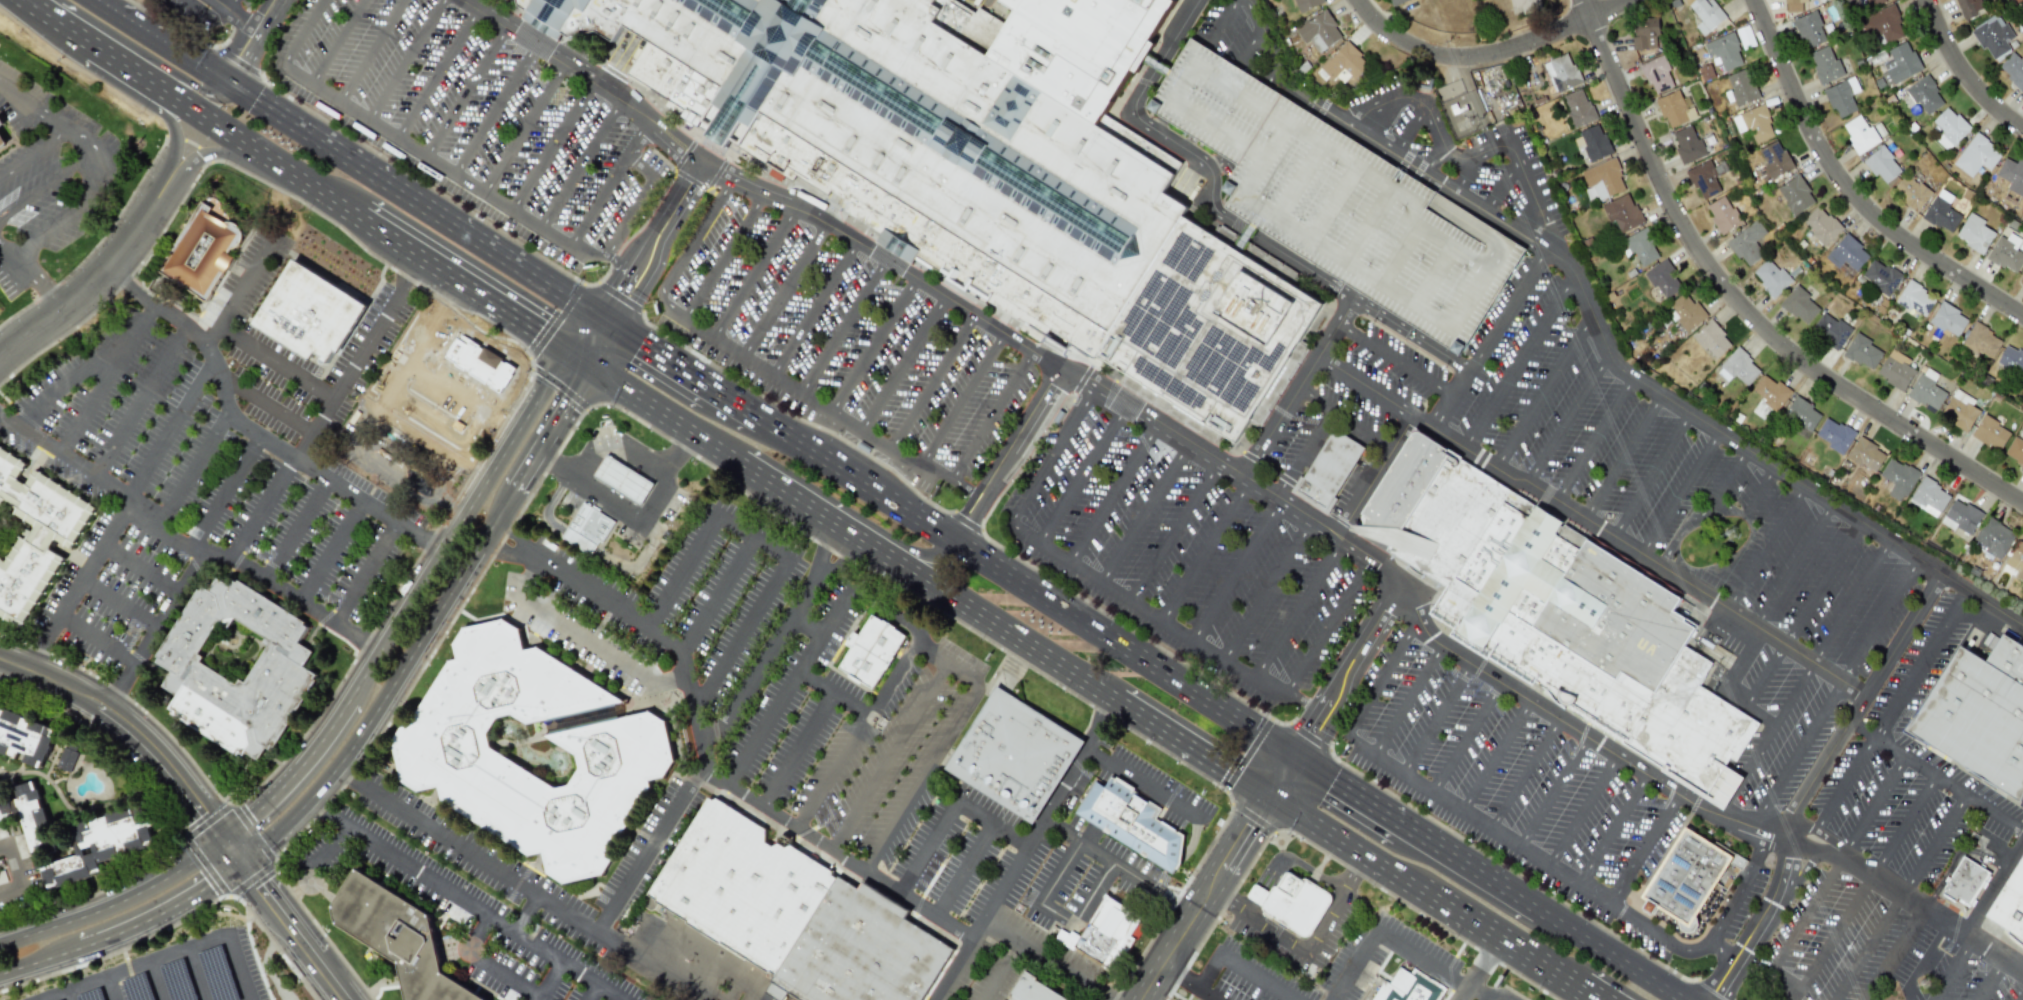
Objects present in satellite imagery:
building: (2016, 1)
building: (1394, 2)
parking lot: (251, 3)
building: (1867, 3)
road: (102, 4)
road: (233, 4)
building: (1306, 4)
building: (1795, 5)
road: (36, 6)
road: (39, 6)
building: (1524, 6)
building: (1969, 8)
road: (211, 14)
building: (1706, 14)
road: (240, 15)
road: (271, 15)
road: (1220, 23)
building: (1882, 24)
road: (69, 28)
building: (1810, 29)
building: (1319, 31)
road: (303, 33)
building: (1644, 33)
building: (1992, 36)
road: (338, 43)
road: (170, 45)
road: (1246, 47)
road: (371, 51)
building: (1724, 51)
building: (1699, 53)
road: (1491, 54)
road: (147, 56)
road: (247, 56)
road: (116, 59)
road: (406, 60)
building: (1344, 63)
building: (1899, 63)
building: (1825, 64)
building: (2013, 69)
road: (438, 72)
building: (1561, 72)
road: (1962, 73)
building: (1657, 74)
road: (586, 77)
power tower: (1545, 79)
traffic signals: (231, 82)
building: (1741, 86)
road: (466, 90)
building: (1921, 94)
building: (1841, 96)
building: (1578, 108)
building: (1675, 108)
road: (495, 109)
road: (30, 110)
parking lot: (478, 110)
road: (1157, 123)
building: (1754, 123)
road: (1214, 126)
road: (173, 127)
road: (524, 127)
building: (1949, 128)
road: (1409, 129)
building: (1859, 133)
road: (1273, 138)
building: (2, 141)
building: (1593, 142)
road: (190, 143)
building: (1687, 144)
road: (552, 145)
road: (249, 146)
road: (30, 153)
road: (229, 155)
road: (427, 155)
building: (1976, 155)
road: (1460, 156)
building: (1774, 158)
road: (1201, 160)
road: (1434, 161)
road: (1216, 162)
road: (579, 164)
building: (1882, 164)
building: (982, 166)
road: (1462, 174)
building: (2012, 174)
building: (1704, 178)
building: (1602, 179)
road: (1299, 181)
road: (49, 185)
road: (607, 185)
road: (1501, 187)
road: (1850, 189)
building: (1912, 192)
road: (1421, 193)
building: (1795, 194)
road: (88, 196)
building: (1338, 200)
parking garage: (1338, 200)
road: (419, 202)
road: (1333, 202)
road: (635, 210)
building: (1622, 212)
building: (1723, 214)
building: (1942, 215)
road: (1459, 218)
road: (1369, 224)
building: (1821, 225)
building: (1974, 232)
road: (1495, 241)
road: (96, 243)
building: (1747, 243)
road: (652, 245)
building: (1641, 246)
road: (1451, 247)
building: (201, 252)
road: (688, 252)
building: (2006, 252)
building: (1847, 253)
road: (609, 257)
road: (723, 257)
road: (883, 257)
road: (411, 272)
road: (753, 273)
road: (34, 275)
road: (116, 276)
road: (1433, 276)
building: (1880, 276)
building: (2022, 276)
building: (1771, 277)
building: (1663, 279)
road: (94, 283)
road: (783, 288)
road: (470, 290)
road: (236, 291)
road: (441, 292)
building: (1915, 299)
road: (1740, 304)
building: (1799, 305)
road: (814, 308)
road: (1506, 310)
building: (1685, 312)
building: (310, 313)
road: (556, 319)
building: (1949, 319)
traffic signals: (609, 322)
road: (843, 326)
building: (1830, 329)
road: (1411, 334)
road: (1603, 340)
building: (1710, 340)
parking lot: (845, 341)
building: (1981, 341)
road: (596, 342)
road: (873, 344)
road: (456, 347)
building: (1862, 352)
road: (659, 353)
building: (2011, 359)
road: (275, 360)
road: (1394, 361)
traffic signals: (584, 362)
road: (1518, 362)
road: (903, 364)
building: (1738, 367)
building: (1895, 369)
road: (79, 371)
road: (389, 373)
road: (498, 374)
road: (468, 378)
road: (930, 382)
road: (1298, 386)
road: (557, 389)
building: (1926, 390)
road: (1544, 392)
building: (1770, 392)
road: (88, 393)
road: (263, 397)
road: (962, 400)
road: (1450, 400)
road: (735, 401)
road: (138, 402)
building: (437, 403)
road: (816, 403)
building: (1959, 410)
road: (660, 411)
road: (992, 415)
building: (1801, 416)
road: (793, 417)
road: (1343, 417)
road: (1567, 419)
road: (503, 423)
road: (315, 425)
road: (475, 427)
road: (556, 429)
road: (246, 432)
building: (1990, 433)
building: (1834, 434)
road: (417, 436)
road: (607, 440)
road: (1593, 440)
road: (668, 448)
building: (2014, 451)
road: (1008, 452)
road: (1306, 454)
building: (1866, 454)
road: (1028, 457)
road: (1622, 457)
road: (705, 462)
road: (397, 470)
road: (1237, 470)
road: (476, 471)
building: (1327, 471)
road: (195, 472)
road: (1372, 474)
road: (660, 475)
road: (1082, 475)
road: (1652, 475)
road: (858, 477)
building: (622, 478)
building: (1897, 478)
road: (109, 486)
road: (965, 491)
road: (221, 492)
road: (1680, 493)
road: (1113, 495)
building: (1929, 497)
road: (797, 499)
road: (607, 502)
road: (455, 506)
road: (1728, 508)
road: (1143, 513)
building: (1960, 516)
road: (968, 520)
road: (457, 521)
road: (111, 523)
road: (1591, 524)
road: (1687, 528)
building: (586, 529)
road: (294, 532)
road: (1176, 532)
building: (32, 534)
road: (508, 535)
power tower: (1736, 535)
building: (1993, 537)
road: (431, 544)
road: (501, 546)
road: (688, 547)
road: (1766, 547)
road: (909, 550)
road: (1206, 550)
road: (332, 554)
road: (528, 554)
road: (785, 554)
parking lot: (1182, 559)
building: (2016, 559)
road: (223, 563)
road: (142, 564)
road: (1793, 564)
road: (1238, 571)
road: (368, 576)
road: (1098, 582)
road: (1823, 584)
road: (1269, 592)
road: (120, 601)
road: (1851, 602)
road: (1299, 610)
building: (1563, 614)
road: (988, 619)
road: (1880, 620)
road: (803, 624)
road: (1330, 628)
road: (1132, 630)
road: (770, 634)
road: (580, 639)
road: (368, 644)
road: (936, 647)
road: (1125, 648)
road: (413, 649)
building: (870, 650)
road: (1921, 664)
building: (236, 667)
road: (1349, 675)
road: (1763, 675)
road: (1379, 681)
road: (1726, 687)
road: (787, 688)
road: (118, 689)
road: (885, 693)
road: (1407, 700)
road: (1436, 719)
building: (1972, 723)
road: (1103, 724)
road: (128, 727)
road: (1465, 737)
building: (24, 738)
road: (1765, 738)
road: (794, 745)
road: (1194, 749)
building: (620, 751)
road: (893, 753)
road: (1245, 753)
building: (1014, 754)
road: (1797, 754)
road: (1496, 756)
building: (67, 758)
road: (928, 758)
traffic signals: (1295, 759)
road: (704, 760)
road: (829, 767)
road: (346, 768)
road: (288, 771)
road: (37, 773)
parking lot: (1495, 774)
road: (1525, 774)
parking lot: (1910, 774)
road: (1936, 775)
road: (1283, 778)
road: (1811, 780)
road: (1062, 784)
road: (1145, 784)
road: (1552, 791)
road: (1348, 792)
road: (1839, 797)
traffic signals: (1271, 798)
road: (1695, 804)
road: (1872, 808)
road: (952, 809)
road: (1584, 810)
road: (324, 811)
building: (1131, 821)
road: (1251, 821)
road: (1485, 825)
road: (1903, 827)
road: (1613, 828)
road: (272, 832)
building: (73, 835)
road: (181, 836)
traffic signals: (224, 837)
road: (1344, 843)
road: (463, 844)
road: (1934, 846)
road: (231, 847)
road: (1646, 848)
road: (839, 853)
road: (1026, 855)
road: (1451, 856)
road: (1332, 858)
road: (1954, 861)
road: (1296, 862)
road: (963, 868)
road: (18, 869)
building: (1965, 881)
road: (257, 882)
building: (1690, 883)
road: (1992, 884)
building: (742, 885)
road: (451, 888)
parking lot: (1696, 891)
road: (291, 894)
road: (1257, 895)
road: (1519, 898)
road: (1206, 899)
road: (117, 900)
road: (1181, 902)
building: (1293, 903)
building: (2010, 904)
road: (1250, 906)
road: (162, 907)
road: (1807, 914)
road: (1051, 915)
road: (178, 921)
building: (1100, 932)
road: (1390, 935)
building: (398, 936)
road: (1832, 937)
road: (1714, 938)
road: (1505, 944)
road: (1305, 945)
road: (669, 946)
parking lot: (1266, 946)
road: (1868, 948)
building: (860, 951)
road: (311, 954)
road: (1042, 954)
parking lot: (1362, 954)
parking lot: (1872, 954)
road: (1609, 955)
road: (1895, 955)
road: (39, 956)
road: (165, 956)
road: (1722, 957)
parking lot: (1463, 962)
road: (481, 963)
road: (1577, 966)
road: (1239, 967)
road: (1478, 969)
road: (1952, 969)
road: (1003, 971)
road: (199, 974)
road: (1994, 980)
road: (156, 981)
road: (543, 981)
road: (1786, 982)
road: (1190, 983)
building: (1405, 987)
power tower: (1927, 988)
road: (109, 989)
building: (1034, 989)
road: (1485, 993)
road: (591, 994)
road: (1105, 995)
road: (67, 996)
road: (1486, 997)
road: (2022, 999)

